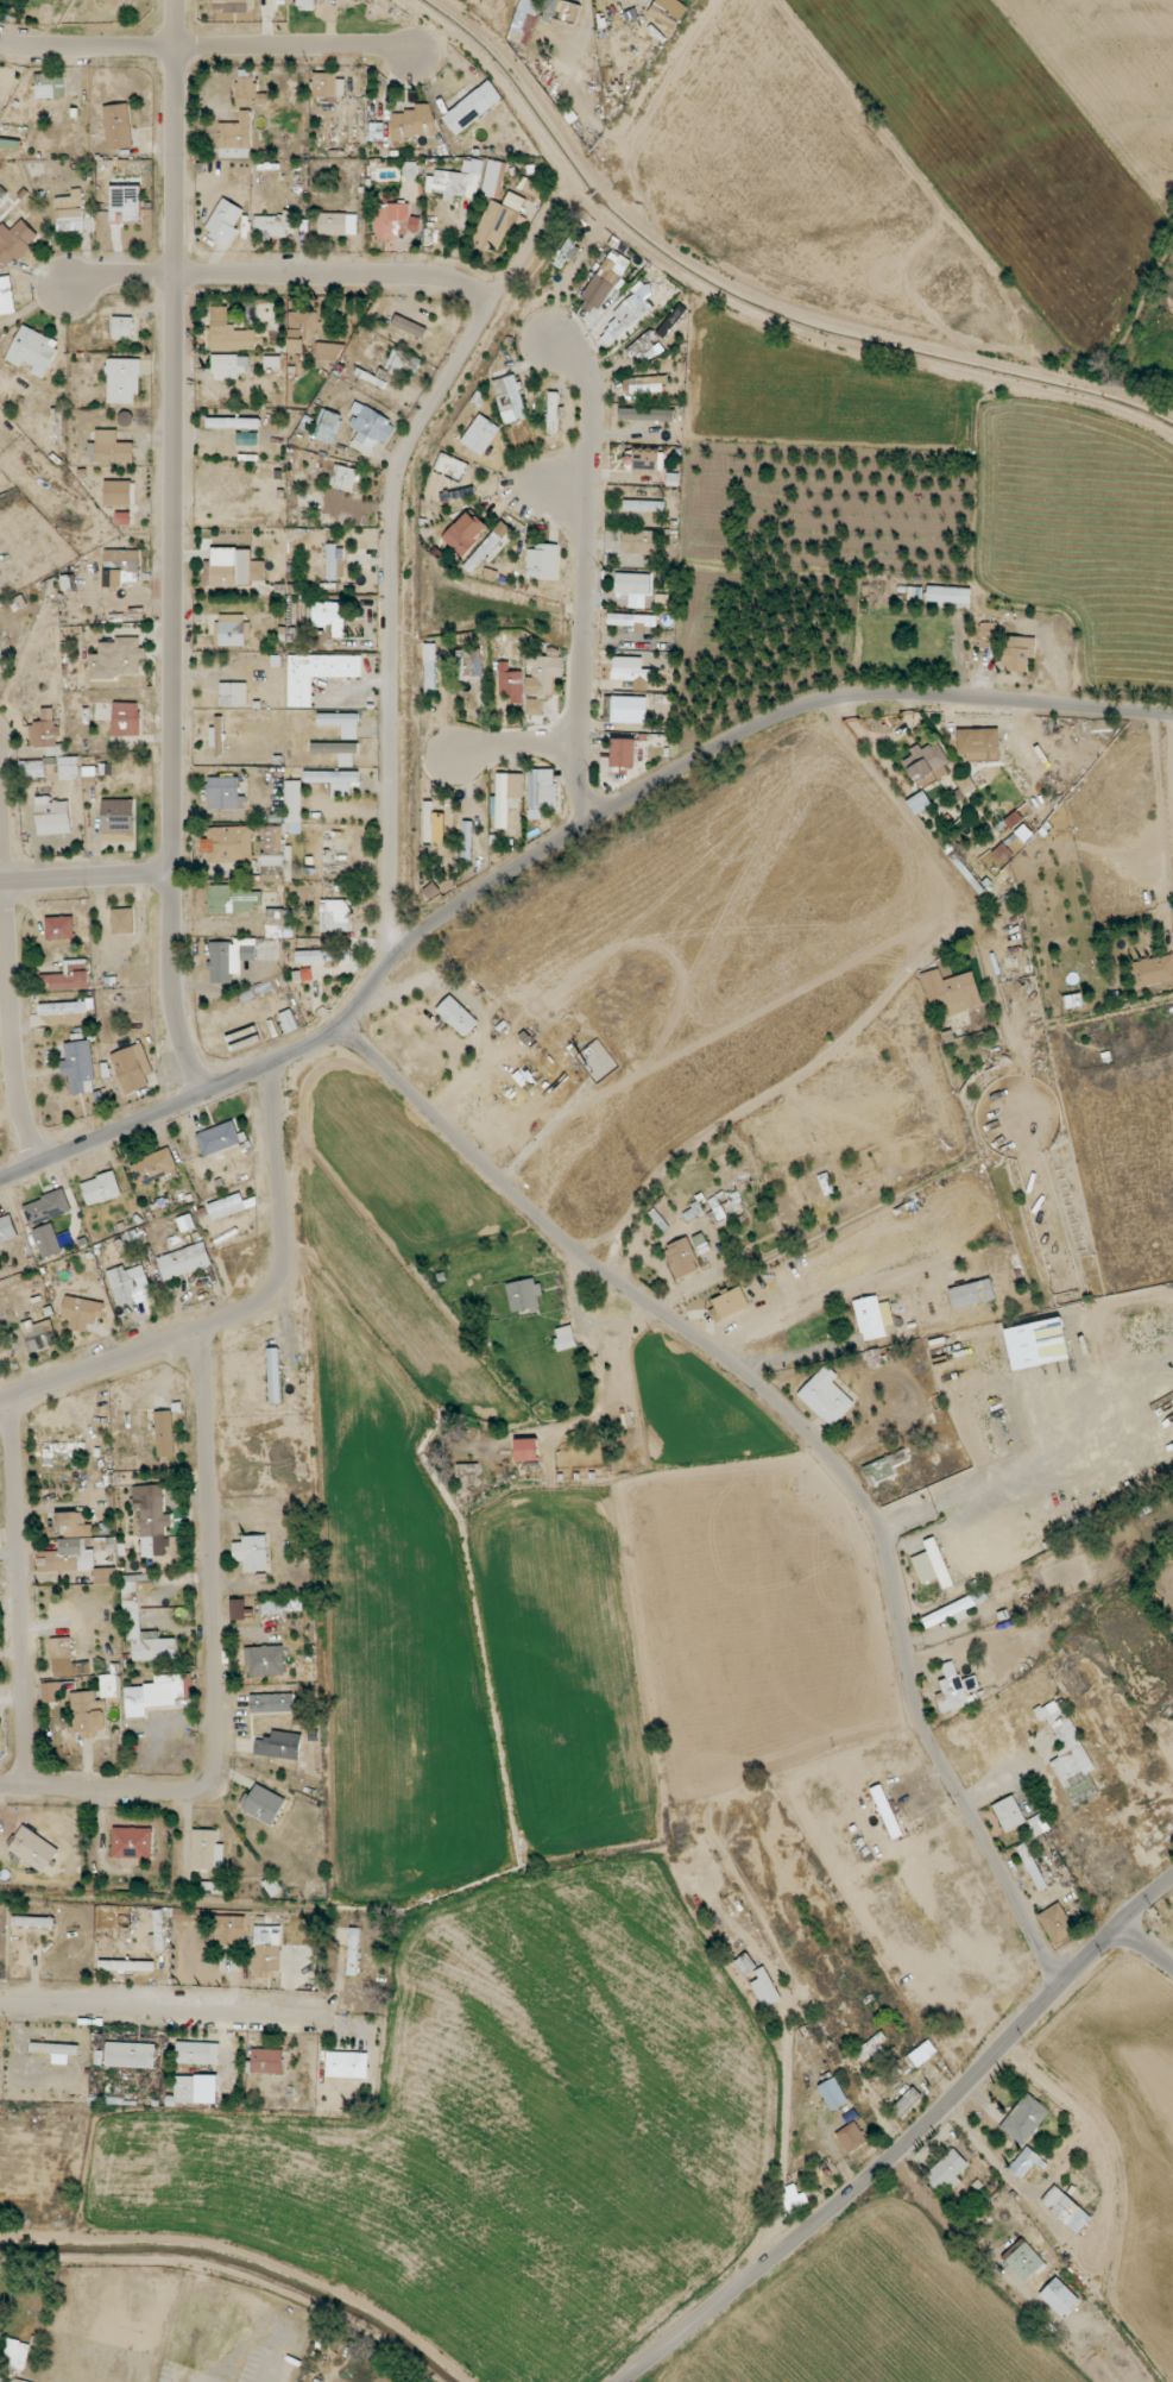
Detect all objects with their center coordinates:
building: (51, 0)
building: (114, 1)
building: (232, 5)
building: (305, 5)
building: (560, 11)
building: (664, 14)
building: (524, 21)
road: (209, 45)
building: (50, 86)
building: (328, 86)
building: (248, 89)
building: (472, 107)
building: (415, 122)
building: (118, 126)
building: (376, 131)
building: (235, 137)
building: (471, 166)
building: (493, 178)
building: (448, 184)
building: (524, 199)
building: (125, 202)
building: (70, 212)
building: (395, 221)
building: (225, 222)
building: (275, 224)
building: (338, 224)
building: (14, 241)
road: (275, 274)
building: (604, 282)
building: (6, 296)
building: (628, 314)
building: (671, 321)
building: (409, 326)
building: (122, 328)
building: (302, 333)
building: (228, 335)
building: (645, 347)
building: (33, 351)
building: (329, 351)
building: (227, 365)
building: (122, 381)
building: (644, 384)
building: (509, 398)
building: (553, 411)
building: (233, 422)
building: (327, 426)
building: (56, 427)
building: (368, 428)
building: (480, 434)
building: (247, 438)
building: (111, 448)
building: (644, 461)
building: (450, 466)
building: (343, 477)
road: (555, 491)
building: (118, 492)
building: (459, 494)
building: (643, 505)
building: (341, 518)
building: (465, 533)
building: (639, 541)
road: (393, 543)
building: (486, 547)
road: (175, 548)
building: (333, 560)
building: (543, 561)
building: (119, 565)
building: (233, 567)
road: (584, 571)
building: (632, 584)
building: (948, 595)
building: (664, 601)
building: (329, 617)
building: (633, 620)
building: (231, 630)
building: (986, 635)
building: (1020, 653)
building: (118, 659)
building: (471, 662)
building: (430, 667)
building: (0, 671)
building: (631, 672)
building: (316, 673)
building: (547, 674)
building: (511, 683)
building: (233, 693)
building: (625, 709)
building: (126, 718)
building: (342, 723)
building: (45, 733)
building: (217, 736)
road: (512, 742)
building: (978, 747)
building: (623, 753)
building: (925, 761)
building: (32, 768)
building: (69, 768)
building: (334, 780)
building: (965, 784)
building: (225, 793)
building: (542, 793)
building: (505, 796)
building: (919, 803)
building: (294, 806)
building: (52, 816)
building: (116, 818)
building: (1024, 832)
building: (467, 841)
building: (228, 844)
road: (555, 844)
building: (276, 855)
road: (84, 876)
building: (431, 890)
building: (232, 899)
building: (334, 916)
building: (122, 920)
building: (275, 923)
building: (59, 928)
building: (323, 955)
building: (229, 957)
building: (1153, 972)
building: (305, 975)
building: (69, 976)
building: (952, 992)
road: (12, 994)
building: (1073, 1000)
building: (63, 1008)
building: (456, 1016)
building: (78, 1067)
building: (132, 1068)
building: (219, 1138)
building: (153, 1167)
building: (101, 1188)
building: (226, 1206)
building: (46, 1207)
building: (717, 1208)
building: (7, 1228)
building: (48, 1240)
building: (682, 1258)
building: (184, 1261)
building: (130, 1284)
building: (972, 1294)
building: (523, 1295)
building: (731, 1302)
building: (82, 1312)
road: (775, 1312)
road: (246, 1313)
building: (887, 1313)
building: (870, 1318)
building: (39, 1334)
building: (565, 1338)
road: (793, 1356)
building: (273, 1375)
building: (826, 1396)
building: (1028, 1412)
road: (806, 1431)
building: (164, 1433)
building: (63, 1447)
building: (526, 1450)
building: (884, 1466)
building: (467, 1476)
building: (151, 1519)
building: (74, 1525)
building: (252, 1552)
building: (67, 1557)
building: (932, 1565)
building: (105, 1576)
road: (21, 1594)
building: (980, 1596)
building: (273, 1607)
building: (132, 1609)
building: (240, 1610)
building: (950, 1613)
building: (61, 1653)
building: (265, 1660)
road: (217, 1661)
building: (108, 1685)
building: (954, 1689)
building: (50, 1692)
building: (154, 1693)
building: (272, 1703)
building: (88, 1714)
building: (279, 1746)
road: (995, 1747)
building: (1070, 1754)
building: (263, 1804)
building: (887, 1811)
building: (1009, 1814)
building: (1039, 1828)
building: (132, 1842)
building: (33, 1849)
building: (207, 1850)
building: (1033, 1868)
building: (213, 1887)
building: (184, 1915)
building: (33, 1922)
building: (1057, 1923)
building: (231, 1930)
building: (157, 1932)
road: (1143, 1950)
building: (353, 1952)
building: (266, 1953)
building: (745, 1963)
building: (126, 1966)
building: (765, 1988)
road: (166, 2015)
road: (879, 2024)
building: (874, 2050)
building: (56, 2051)
building: (197, 2053)
building: (130, 2055)
building: (920, 2056)
building: (265, 2061)
building: (347, 2064)
building: (896, 2069)
building: (196, 2089)
building: (833, 2094)
building: (907, 2103)
building: (1024, 2119)
building: (851, 2137)
road: (910, 2142)
road: (983, 2151)
building: (1024, 2162)
building: (946, 2172)
building: (1066, 2210)
building: (1023, 2260)
building: (1059, 2298)
road: (849, 2314)
building: (13, 2358)

